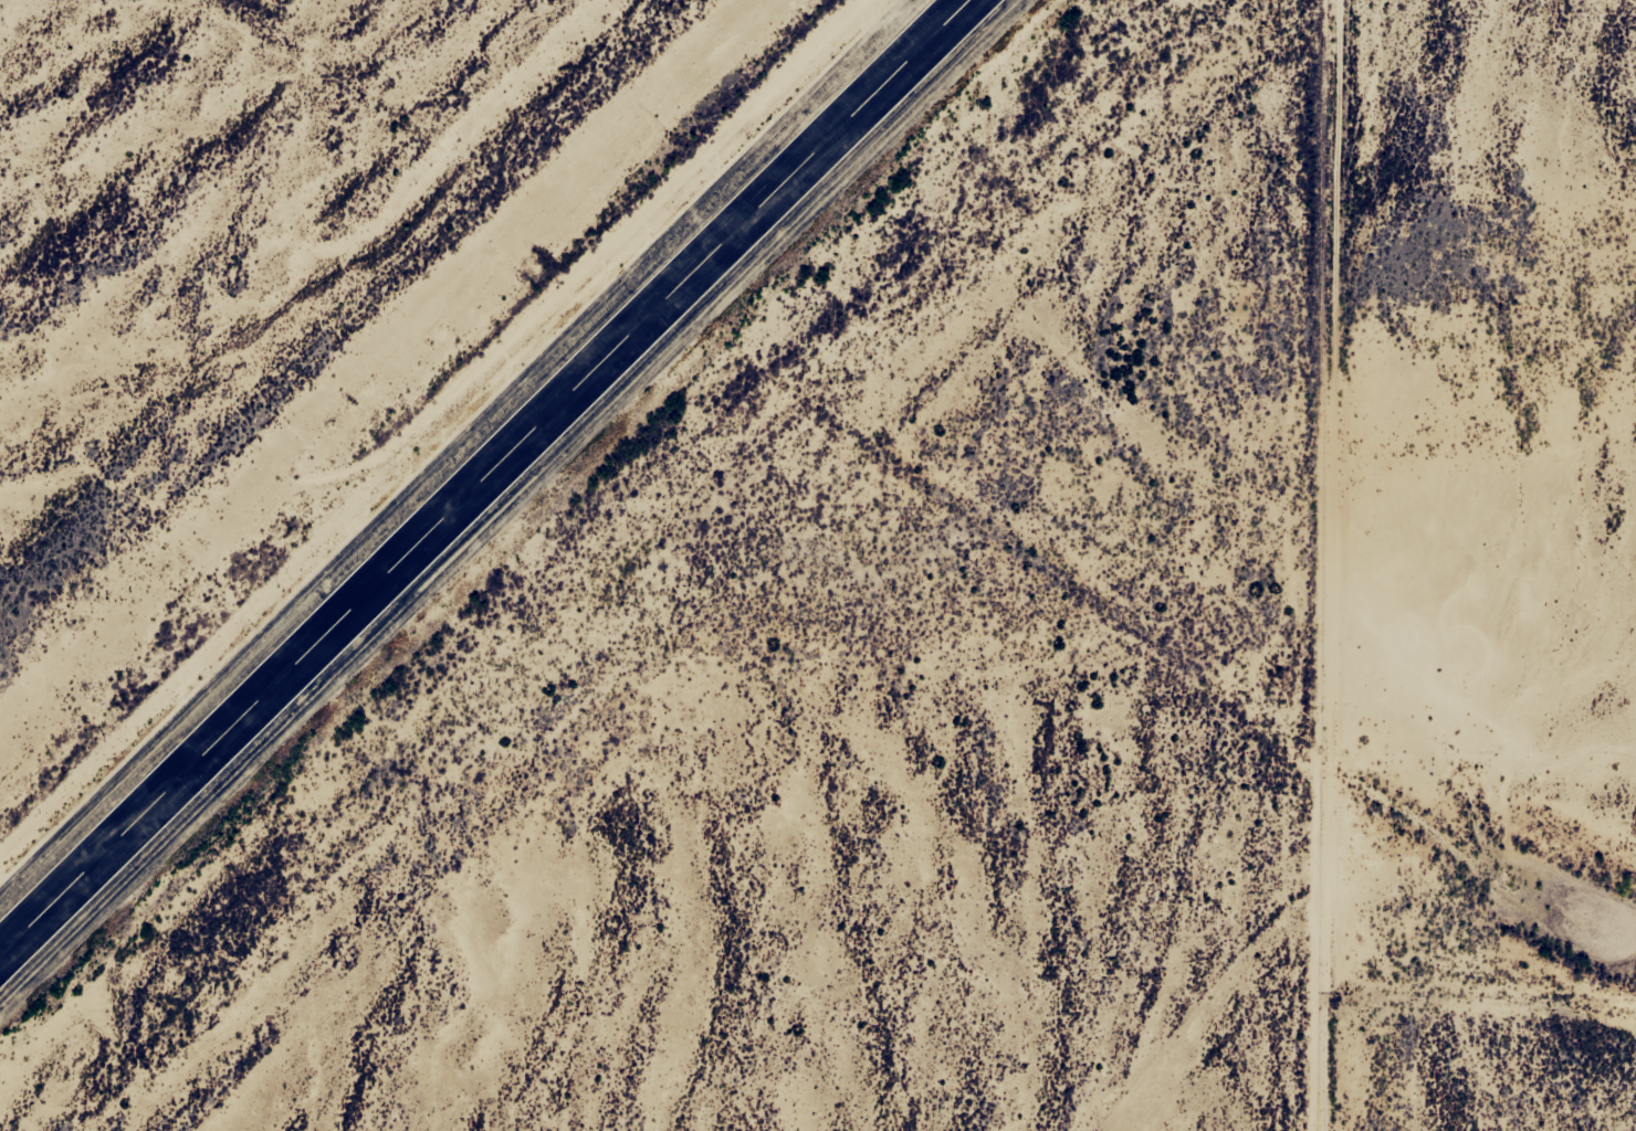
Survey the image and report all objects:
airport runway: (483, 477)
road: (1308, 565)

